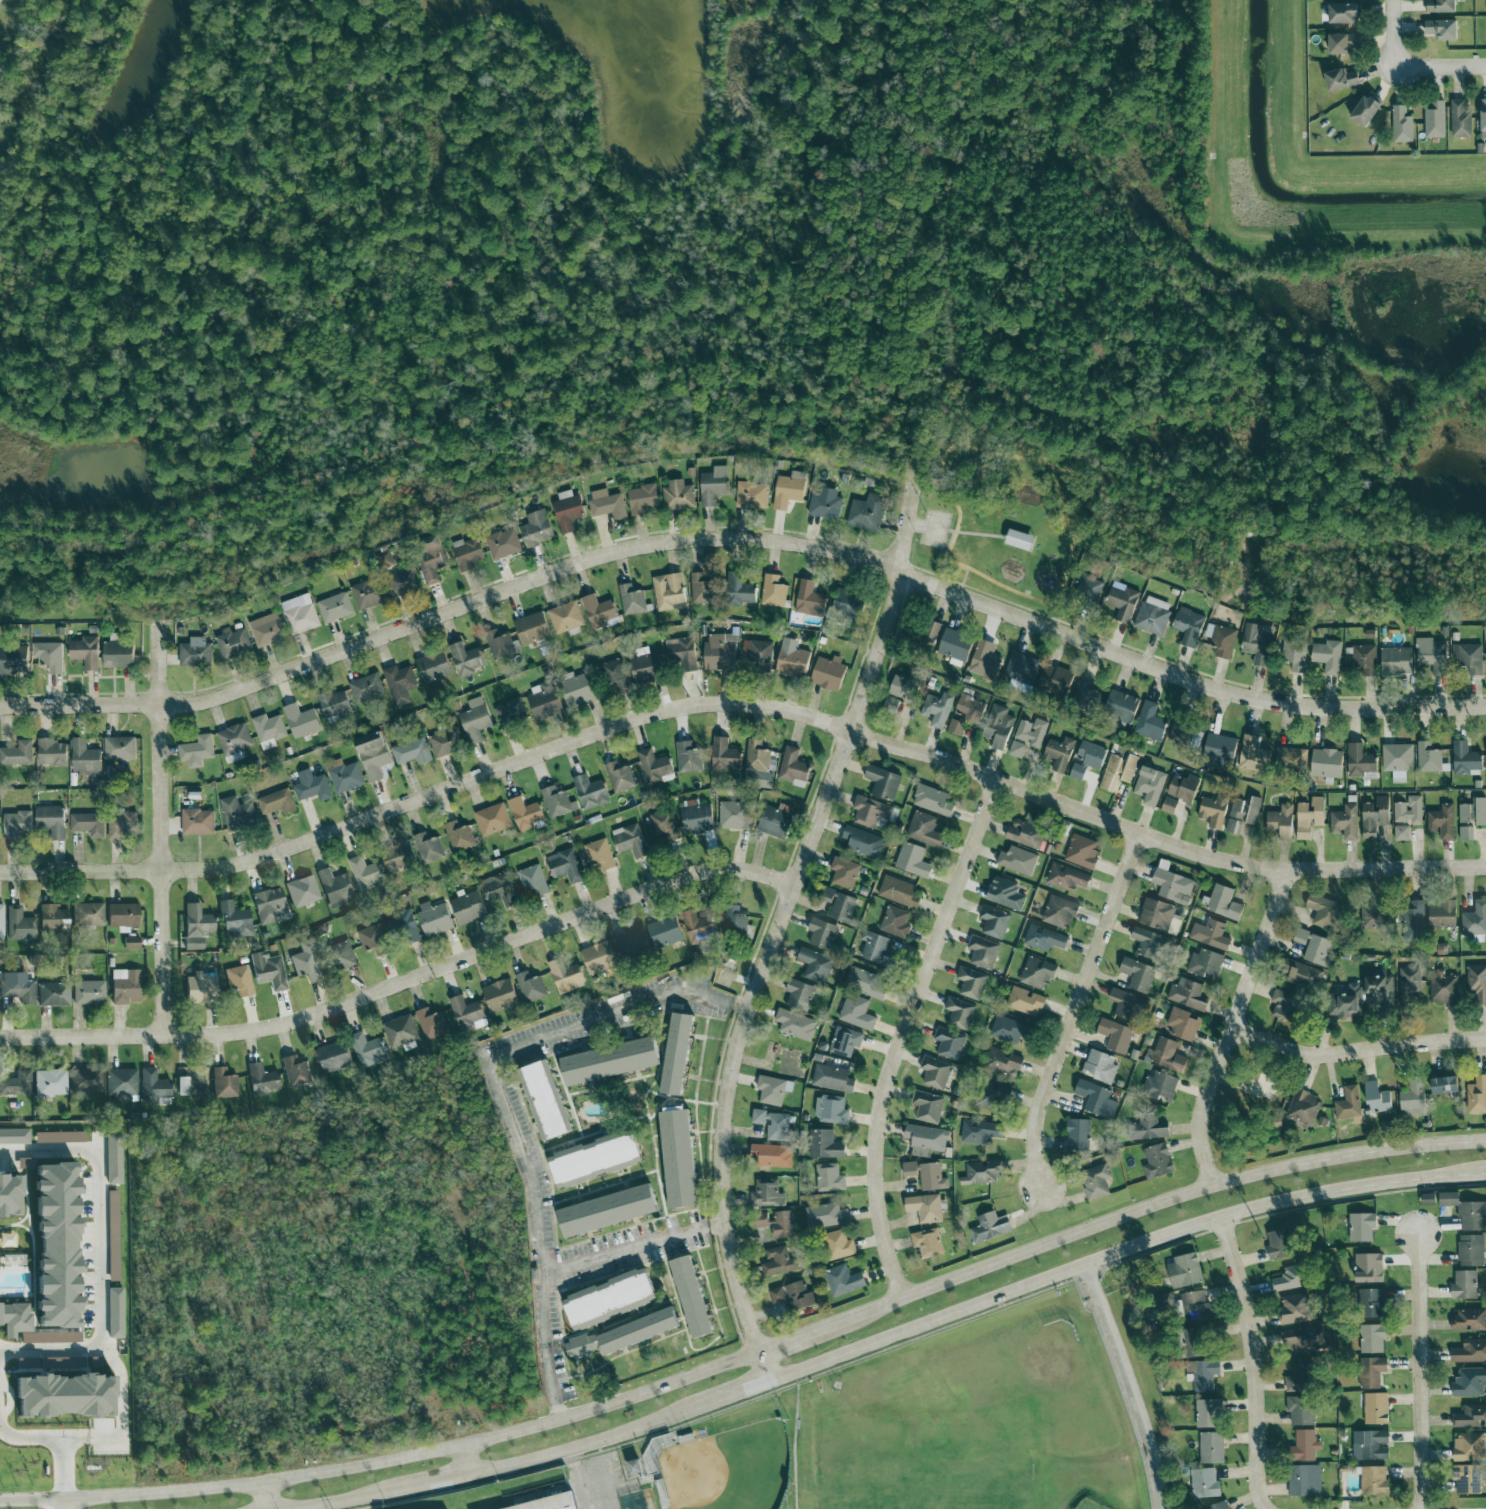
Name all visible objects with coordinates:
building: (1441, 6)
building: (1343, 13)
building: (1442, 29)
road: (1393, 33)
building: (1343, 43)
road: (1440, 66)
building: (1341, 79)
building: (1365, 111)
building: (1483, 119)
building: (1434, 120)
building: (1460, 120)
building: (1402, 125)
building: (713, 485)
building: (789, 489)
building: (678, 495)
building: (752, 495)
building: (642, 499)
building: (606, 503)
building: (824, 506)
building: (567, 511)
building: (866, 513)
building: (536, 528)
road: (743, 539)
building: (1019, 539)
building: (503, 543)
building: (467, 553)
building: (430, 557)
building: (402, 582)
building: (1089, 588)
building: (701, 589)
building: (740, 589)
building: (773, 590)
building: (366, 594)
building: (809, 598)
building: (631, 600)
building: (846, 601)
building: (1123, 601)
building: (335, 607)
building: (599, 612)
building: (300, 614)
building: (1153, 615)
building: (567, 618)
building: (1189, 626)
building: (532, 628)
building: (266, 630)
building: (930, 632)
building: (1221, 639)
building: (232, 643)
building: (1258, 643)
building: (501, 644)
building: (956, 645)
building: (84, 649)
building: (195, 652)
building: (682, 653)
building: (118, 654)
building: (1294, 655)
building: (1433, 655)
building: (759, 656)
building: (1327, 656)
building: (51, 657)
building: (1469, 657)
building: (465, 659)
building: (13, 660)
building: (983, 660)
building: (1364, 660)
building: (792, 661)
building: (1396, 661)
building: (433, 666)
building: (646, 667)
building: (1022, 668)
building: (828, 673)
building: (614, 674)
building: (1055, 679)
building: (399, 684)
building: (902, 688)
building: (366, 689)
building: (578, 689)
building: (1084, 693)
building: (545, 701)
road: (742, 703)
building: (892, 703)
building: (334, 704)
building: (1123, 706)
road: (0, 708)
road: (0, 709)
building: (937, 709)
building: (970, 709)
building: (511, 715)
building: (475, 720)
building: (301, 721)
building: (1150, 722)
building: (956, 727)
building: (998, 727)
building: (268, 730)
building: (1184, 732)
building: (1027, 737)
building: (234, 742)
building: (444, 743)
building: (119, 748)
building: (1220, 750)
building: (196, 751)
building: (51, 752)
building: (412, 752)
building: (1059, 753)
building: (17, 754)
building: (373, 754)
building: (724, 755)
building: (756, 755)
building: (1253, 755)
building: (688, 757)
building: (1292, 757)
building: (85, 758)
building: (1428, 758)
building: (1465, 758)
building: (1088, 759)
building: (1360, 761)
building: (1398, 761)
building: (1327, 763)
building: (792, 765)
building: (652, 766)
building: (1118, 771)
building: (763, 776)
building: (620, 777)
building: (346, 778)
building: (883, 782)
building: (1150, 785)
building: (312, 787)
building: (1183, 787)
building: (590, 792)
building: (933, 800)
building: (277, 802)
building: (557, 802)
building: (1169, 805)
building: (1409, 810)
building: (870, 811)
building: (1213, 812)
building: (525, 813)
building: (1243, 813)
building: (237, 814)
building: (733, 815)
building: (1310, 817)
building: (1375, 817)
building: (1471, 817)
building: (492, 819)
building: (697, 819)
building: (51, 820)
building: (197, 822)
building: (775, 822)
building: (1281, 822)
building: (1345, 822)
building: (1442, 822)
building: (17, 824)
building: (88, 824)
building: (121, 825)
building: (664, 826)
building: (924, 829)
road: (158, 830)
building: (1025, 832)
building: (1401, 833)
building: (459, 836)
building: (630, 840)
building: (863, 842)
building: (428, 848)
building: (1082, 851)
building: (599, 854)
building: (397, 860)
building: (912, 860)
building: (1017, 860)
building: (565, 866)
building: (844, 872)
building: (365, 874)
building: (1066, 878)
building: (533, 880)
building: (1172, 884)
building: (335, 888)
building: (500, 890)
building: (301, 891)
building: (898, 892)
building: (1005, 894)
building: (1224, 903)
building: (839, 904)
building: (269, 905)
building: (468, 908)
building: (1324, 911)
building: (1059, 912)
building: (86, 914)
building: (1443, 914)
building: (120, 916)
building: (1159, 916)
building: (52, 917)
building: (1372, 917)
building: (1475, 917)
building: (1414, 918)
building: (434, 919)
building: (1, 920)
building: (234, 920)
building: (734, 920)
building: (895, 922)
building: (994, 922)
building: (19, 925)
road: (782, 925)
building: (195, 926)
building: (697, 926)
building: (402, 928)
building: (665, 932)
building: (822, 933)
building: (1211, 934)
building: (1043, 938)
building: (373, 940)
building: (130, 942)
building: (1147, 942)
building: (633, 945)
building: (873, 946)
building: (1314, 946)
building: (982, 952)
building: (340, 955)
building: (599, 957)
building: (304, 962)
building: (1205, 963)
building: (815, 965)
building: (267, 970)
building: (1037, 973)
building: (1138, 974)
building: (1303, 974)
building: (566, 976)
building: (238, 980)
road: (406, 982)
building: (866, 983)
building: (971, 983)
building: (1477, 983)
building: (1410, 985)
building: (124, 986)
building: (530, 987)
building: (18, 988)
building: (200, 988)
building: (1443, 988)
building: (1379, 990)
building: (88, 992)
building: (53, 994)
building: (799, 994)
building: (1187, 994)
building: (500, 995)
building: (1025, 1002)
building: (1123, 1003)
building: (1346, 1003)
building: (1284, 1004)
road: (1079, 1006)
building: (856, 1012)
building: (959, 1013)
building: (467, 1014)
building: (431, 1024)
building: (795, 1024)
building: (1183, 1024)
road: (1232, 1024)
building: (1007, 1030)
building: (401, 1033)
building: (1115, 1035)
road: (908, 1036)
building: (845, 1042)
building: (949, 1043)
building: (366, 1050)
road: (1357, 1050)
building: (676, 1053)
building: (1166, 1055)
building: (333, 1057)
building: (609, 1061)
building: (1003, 1061)
building: (1100, 1065)
building: (295, 1071)
building: (935, 1072)
building: (832, 1078)
building: (85, 1081)
building: (50, 1082)
building: (120, 1082)
building: (260, 1082)
building: (223, 1083)
building: (16, 1084)
building: (1445, 1085)
building: (152, 1086)
building: (182, 1086)
building: (1160, 1086)
building: (773, 1090)
building: (985, 1095)
building: (1477, 1095)
building: (124, 1098)
building: (1377, 1098)
building: (1096, 1099)
building: (1414, 1099)
building: (542, 1100)
road: (504, 1105)
building: (1349, 1105)
building: (928, 1106)
building: (1303, 1108)
building: (831, 1110)
building: (773, 1124)
building: (1148, 1127)
building: (981, 1132)
building: (14, 1136)
building: (1077, 1136)
building: (926, 1140)
building: (824, 1145)
building: (772, 1155)
building: (593, 1157)
building: (678, 1158)
building: (112, 1159)
building: (1157, 1161)
building: (982, 1173)
building: (927, 1175)
building: (829, 1178)
building: (1095, 1182)
building: (8, 1194)
building: (766, 1194)
building: (1428, 1198)
building: (925, 1208)
building: (607, 1210)
building: (1466, 1211)
building: (826, 1215)
building: (777, 1223)
building: (990, 1227)
building: (1362, 1227)
building: (928, 1242)
building: (55, 1244)
building: (839, 1245)
building: (1280, 1246)
road: (635, 1250)
building: (1471, 1250)
road: (1123, 1253)
road: (99, 1256)
building: (778, 1262)
building: (1369, 1268)
building: (1185, 1271)
building: (1288, 1279)
building: (843, 1281)
building: (1465, 1285)
building: (777, 1295)
building: (800, 1296)
building: (608, 1297)
building: (691, 1297)
building: (1371, 1303)
building: (1196, 1306)
building: (1293, 1309)
building: (114, 1313)
building: (14, 1319)
building: (1469, 1319)
building: (638, 1331)
road: (1255, 1337)
building: (1372, 1338)
building: (1304, 1339)
building: (1196, 1342)
building: (580, 1347)
building: (1470, 1352)
road: (752, 1360)
building: (1372, 1372)
road: (1426, 1372)
building: (1203, 1374)
building: (1301, 1377)
building: (1470, 1382)
road: (1127, 1387)
park: (1035, 1390)
building: (62, 1396)
road: (729, 1397)
building: (1376, 1408)
building: (1301, 1410)
building: (1208, 1414)
building: (1471, 1417)
road: (120, 1426)
road: (577, 1444)
building: (1370, 1445)
building: (1304, 1446)
building: (1470, 1447)
building: (1212, 1448)
road: (53, 1450)
road: (464, 1461)
park: (922, 1464)
building: (635, 1467)
park: (728, 1469)
road: (584, 1477)
building: (1468, 1479)
building: (1305, 1481)
building: (1374, 1481)
road: (431, 1484)
building: (1205, 1484)
road: (1262, 1486)
road: (267, 1498)
road: (347, 1500)
building: (549, 1503)
stadium: (782, 1503)
road: (63, 1506)
building: (1218, 1506)

